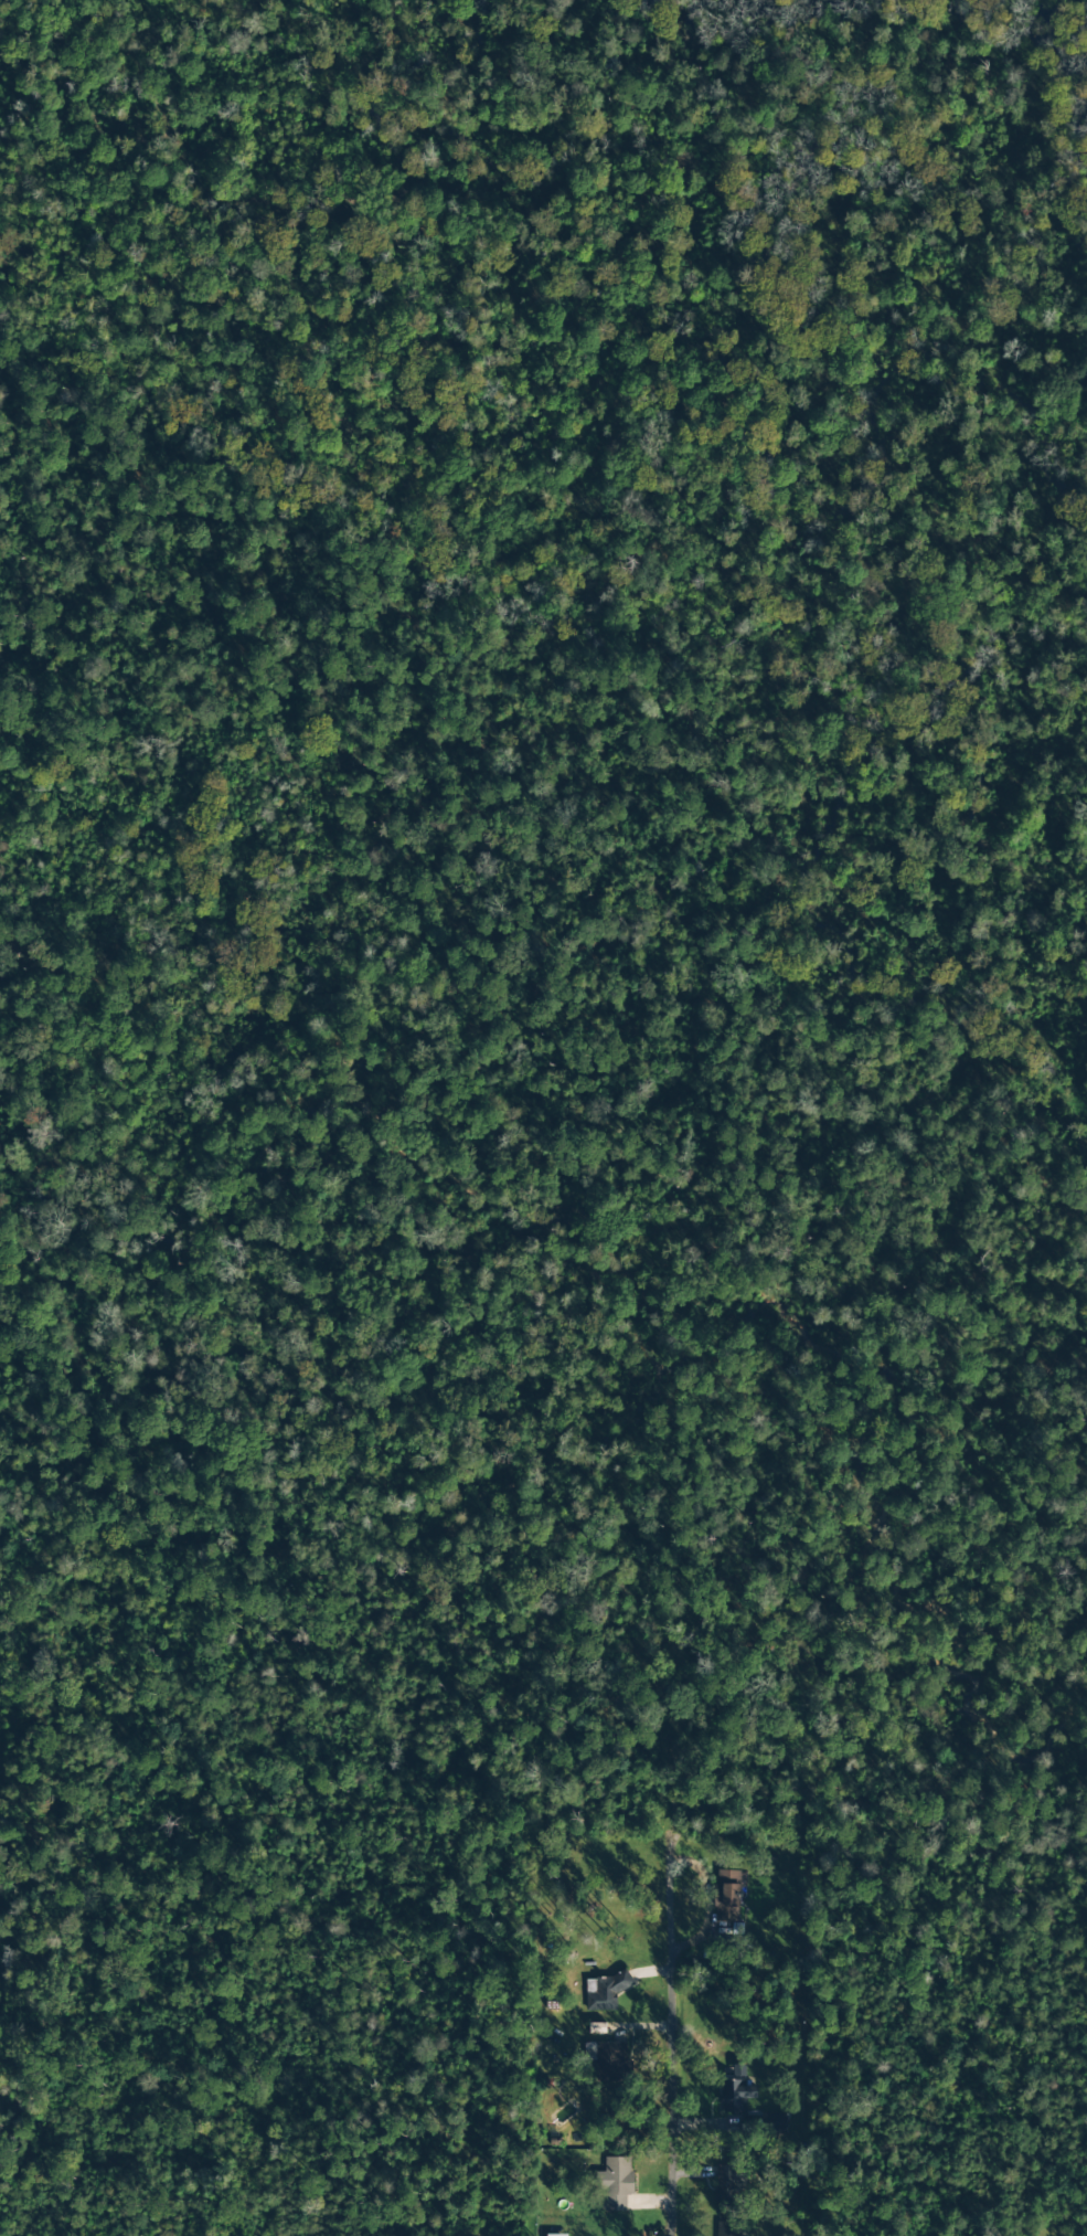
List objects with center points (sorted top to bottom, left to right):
building: (727, 1896)
road: (642, 2022)
building: (612, 2065)
building: (735, 2096)
building: (763, 2123)
building: (615, 2183)
building: (727, 2185)
building: (727, 2229)
building: (556, 2235)

